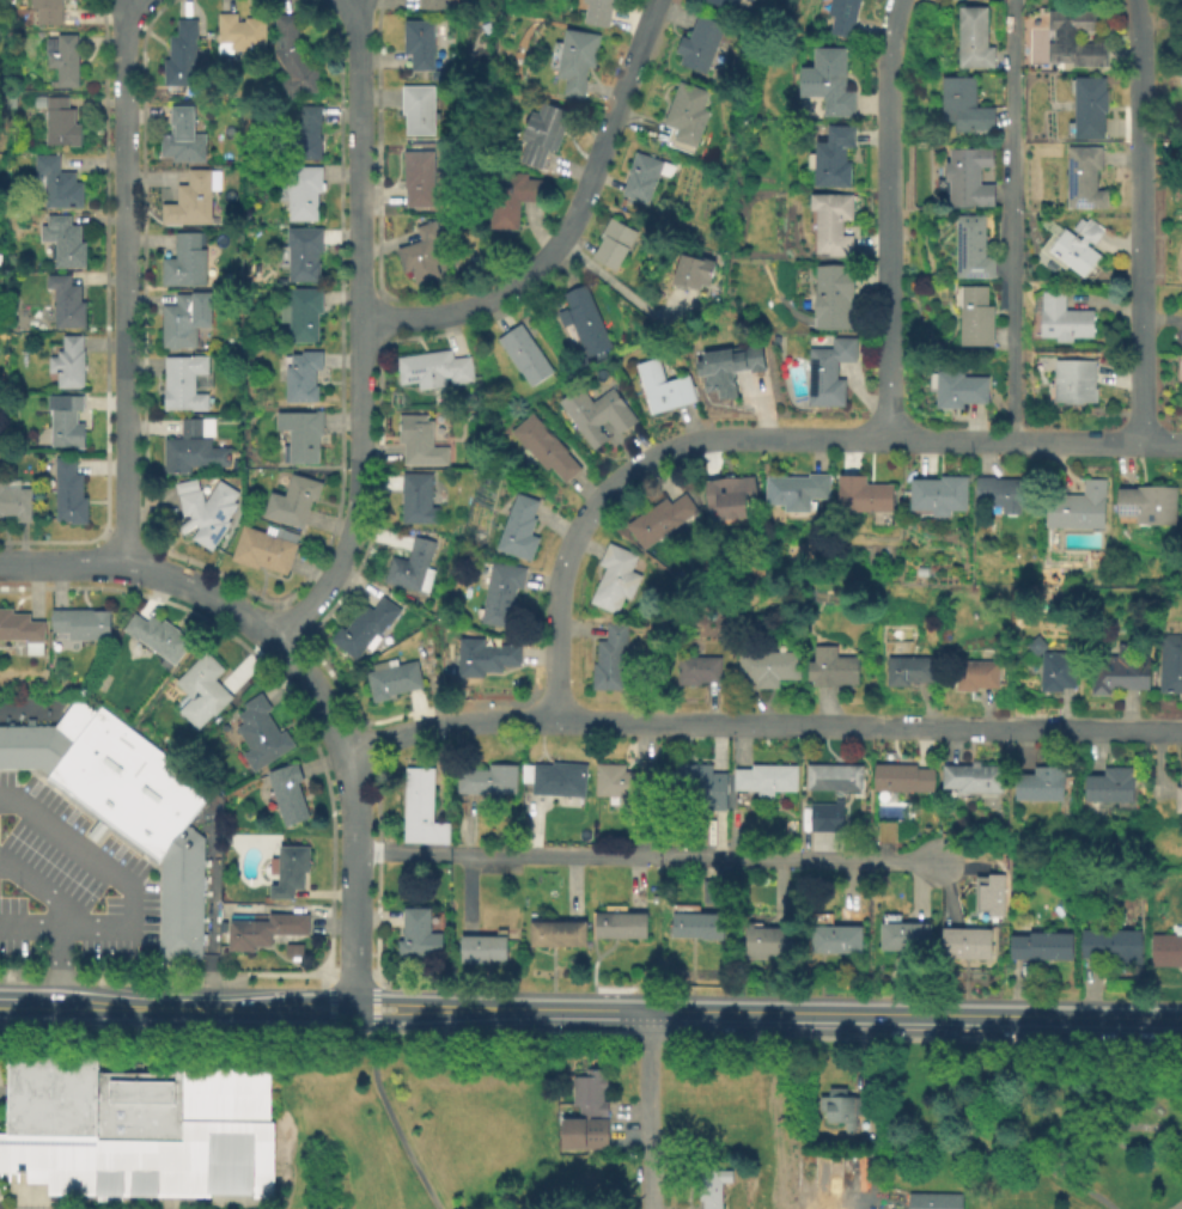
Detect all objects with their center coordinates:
building: (432, 5)
building: (729, 6)
building: (47, 12)
building: (596, 13)
building: (840, 18)
building: (239, 35)
building: (971, 41)
building: (1073, 42)
building: (416, 45)
building: (696, 47)
building: (179, 57)
building: (291, 60)
building: (61, 61)
building: (574, 62)
building: (1181, 73)
building: (825, 84)
building: (962, 109)
building: (416, 110)
building: (1087, 110)
building: (684, 116)
building: (56, 123)
building: (541, 135)
building: (305, 136)
building: (179, 140)
road: (376, 155)
road: (358, 159)
building: (829, 160)
building: (416, 179)
building: (640, 179)
building: (967, 179)
building: (1082, 179)
building: (53, 185)
building: (299, 194)
building: (508, 199)
building: (190, 200)
road: (886, 218)
road: (1007, 220)
road: (1144, 220)
building: (829, 225)
road: (569, 226)
building: (61, 242)
building: (611, 243)
building: (1070, 248)
building: (969, 250)
building: (300, 254)
building: (420, 255)
road: (566, 257)
building: (1, 259)
building: (183, 262)
building: (691, 273)
road: (126, 282)
road: (619, 291)
building: (830, 299)
building: (65, 303)
building: (300, 316)
road: (104, 317)
building: (973, 319)
road: (379, 320)
building: (583, 320)
building: (177, 322)
building: (1061, 322)
building: (523, 356)
building: (66, 364)
building: (432, 371)
building: (732, 371)
building: (825, 373)
building: (299, 378)
building: (1072, 383)
building: (181, 384)
building: (660, 390)
building: (957, 391)
building: (593, 415)
building: (471, 419)
building: (63, 422)
road: (764, 435)
building: (298, 438)
building: (418, 442)
building: (542, 448)
building: (191, 450)
road: (376, 462)
building: (793, 493)
building: (67, 494)
road: (361, 494)
building: (995, 494)
building: (860, 497)
building: (936, 497)
building: (415, 500)
building: (294, 501)
building: (727, 501)
building: (14, 502)
building: (1145, 507)
building: (1077, 508)
building: (203, 513)
building: (658, 523)
building: (517, 531)
road: (122, 536)
building: (262, 551)
building: (410, 569)
building: (919, 574)
building: (613, 581)
road: (248, 592)
building: (498, 594)
road: (288, 622)
building: (80, 625)
building: (364, 629)
building: (20, 633)
building: (157, 639)
building: (1034, 648)
building: (482, 659)
building: (607, 661)
road: (298, 666)
building: (1169, 666)
building: (766, 668)
building: (829, 670)
building: (695, 672)
building: (906, 673)
building: (1116, 673)
building: (1054, 674)
building: (973, 678)
building: (390, 682)
building: (201, 694)
road: (26, 709)
road: (347, 710)
road: (760, 721)
building: (258, 737)
road: (367, 743)
building: (6, 745)
building: (37, 745)
road: (13, 776)
building: (122, 778)
building: (831, 781)
building: (969, 781)
building: (488, 782)
building: (763, 782)
building: (554, 783)
road: (32, 786)
building: (614, 786)
road: (49, 787)
building: (697, 788)
building: (1036, 788)
building: (1109, 789)
building: (286, 796)
building: (894, 798)
building: (1177, 798)
building: (419, 811)
road: (69, 813)
building: (823, 818)
road: (99, 824)
road: (329, 826)
street lamp: (2, 829)
road: (117, 849)
road: (647, 855)
building: (182, 868)
road: (376, 872)
building: (286, 873)
parking lot: (68, 880)
road: (148, 880)
road: (37, 887)
road: (128, 889)
road: (156, 889)
street lamp: (18, 890)
building: (711, 894)
building: (987, 896)
street lamp: (98, 902)
building: (179, 912)
road: (211, 912)
building: (693, 926)
building: (616, 928)
building: (179, 929)
building: (255, 933)
building: (555, 936)
building: (902, 938)
building: (416, 939)
building: (831, 939)
road: (147, 941)
street lamp: (36, 944)
building: (764, 944)
building: (963, 945)
building: (179, 947)
building: (1109, 947)
building: (1040, 948)
building: (481, 951)
building: (1164, 953)
road: (56, 963)
street lamp: (162, 967)
road: (327, 970)
road: (324, 976)
road: (376, 981)
road: (341, 983)
road: (364, 983)
road: (614, 988)
road: (354, 990)
road: (334, 997)
road: (373, 999)
road: (10, 1001)
road: (306, 1001)
road: (114, 1002)
road: (403, 1002)
road: (255, 1005)
road: (353, 1007)
road: (463, 1007)
road: (373, 1008)
road: (306, 1010)
road: (329, 1010)
road: (402, 1012)
road: (847, 1013)
road: (333, 1016)
road: (372, 1018)
road: (185, 1030)
road: (965, 1032)
road: (502, 1036)
road: (691, 1036)
road: (104, 1050)
building: (585, 1094)
building: (840, 1109)
road: (644, 1110)
park: (285, 1122)
road: (392, 1124)
park: (956, 1124)
building: (139, 1126)
building: (581, 1135)
road: (1082, 1143)
building: (709, 1187)
building: (937, 1201)
road: (1175, 1204)

